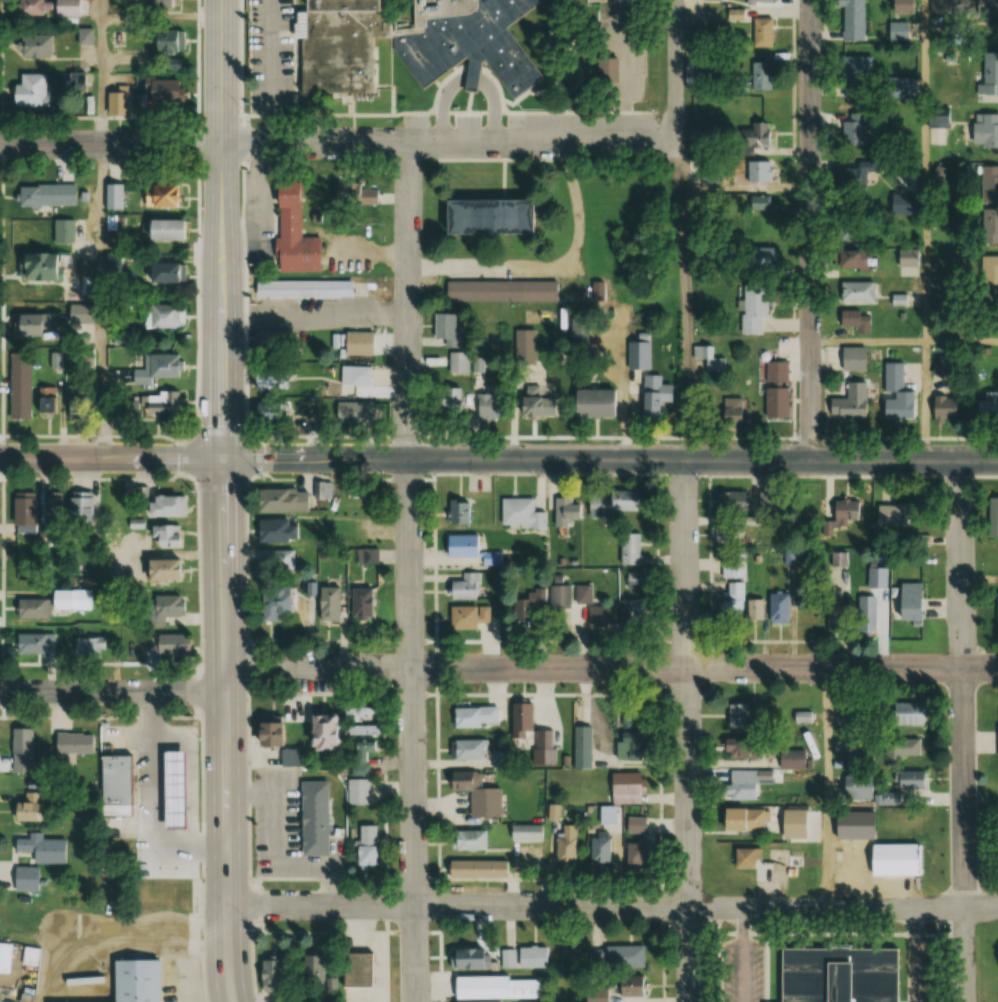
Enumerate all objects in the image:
building: (711, 0)
building: (757, 1)
building: (158, 3)
building: (26, 7)
building: (901, 7)
building: (949, 7)
building: (66, 8)
building: (985, 8)
building: (851, 20)
building: (896, 31)
building: (761, 32)
building: (83, 36)
building: (161, 40)
building: (465, 41)
building: (343, 44)
building: (33, 46)
parking lot: (273, 56)
building: (855, 68)
road: (676, 70)
road: (102, 72)
building: (989, 74)
building: (760, 76)
road: (469, 80)
building: (902, 87)
building: (27, 90)
building: (158, 92)
building: (116, 102)
building: (853, 130)
building: (984, 130)
building: (753, 137)
road: (338, 142)
road: (925, 170)
building: (758, 171)
building: (850, 177)
building: (988, 184)
building: (159, 194)
building: (35, 196)
building: (114, 197)
building: (760, 202)
building: (902, 204)
building: (484, 217)
building: (988, 225)
road: (811, 229)
building: (849, 229)
building: (165, 230)
building: (62, 231)
building: (292, 233)
building: (758, 256)
building: (907, 257)
building: (850, 259)
building: (83, 266)
building: (36, 268)
building: (166, 273)
building: (988, 280)
building: (304, 288)
building: (501, 290)
building: (856, 292)
road: (687, 299)
building: (899, 300)
road: (102, 302)
building: (753, 307)
building: (163, 316)
building: (854, 320)
building: (24, 325)
building: (446, 330)
road: (868, 339)
road: (961, 340)
building: (359, 343)
building: (637, 352)
building: (524, 356)
building: (852, 358)
building: (706, 359)
building: (457, 363)
building: (157, 368)
building: (943, 368)
building: (776, 371)
building: (355, 375)
building: (267, 381)
building: (896, 392)
building: (446, 400)
road: (925, 400)
building: (776, 402)
building: (849, 402)
building: (592, 403)
building: (40, 405)
building: (147, 405)
building: (488, 405)
building: (649, 405)
building: (535, 406)
building: (988, 407)
building: (944, 408)
building: (731, 409)
building: (356, 412)
road: (111, 459)
road: (610, 459)
traffic signals: (223, 460)
building: (279, 499)
building: (732, 500)
road: (223, 501)
building: (610, 502)
building: (164, 505)
building: (79, 507)
building: (21, 508)
building: (50, 509)
building: (458, 509)
building: (564, 509)
building: (519, 512)
building: (896, 514)
building: (992, 516)
building: (275, 530)
building: (724, 534)
building: (164, 535)
building: (460, 544)
building: (628, 547)
building: (368, 556)
building: (490, 557)
building: (276, 559)
building: (731, 565)
building: (159, 569)
road: (410, 572)
building: (876, 577)
building: (633, 579)
building: (464, 587)
building: (581, 594)
building: (734, 600)
building: (60, 601)
building: (359, 601)
building: (540, 601)
building: (909, 601)
building: (273, 603)
building: (327, 603)
building: (29, 607)
building: (777, 607)
building: (163, 608)
building: (755, 609)
building: (997, 609)
building: (629, 610)
building: (599, 615)
building: (866, 615)
building: (464, 616)
building: (833, 617)
building: (36, 644)
building: (165, 644)
road: (612, 667)
road: (113, 693)
building: (908, 712)
building: (360, 713)
building: (737, 715)
building: (475, 716)
building: (803, 716)
building: (521, 718)
road: (688, 731)
road: (964, 731)
building: (323, 733)
building: (630, 734)
building: (20, 740)
building: (72, 744)
building: (361, 745)
building: (583, 746)
building: (740, 747)
building: (471, 748)
building: (859, 748)
building: (902, 748)
building: (292, 756)
building: (502, 758)
building: (792, 759)
building: (18, 762)
building: (911, 778)
building: (112, 779)
building: (743, 789)
building: (175, 790)
gas station: (175, 790)
building: (864, 790)
building: (358, 791)
building: (622, 794)
building: (484, 797)
building: (27, 807)
building: (313, 816)
building: (743, 819)
building: (796, 822)
building: (527, 832)
building: (469, 839)
building: (638, 842)
building: (566, 843)
building: (366, 846)
building: (41, 848)
building: (601, 848)
building: (748, 858)
building: (894, 860)
building: (796, 862)
building: (478, 868)
building: (24, 879)
road: (612, 907)
building: (525, 956)
building: (625, 956)
building: (473, 957)
building: (18, 958)
building: (313, 968)
building: (356, 968)
building: (269, 974)
building: (836, 974)
building: (128, 982)
building: (629, 985)
building: (488, 988)
building: (597, 995)

